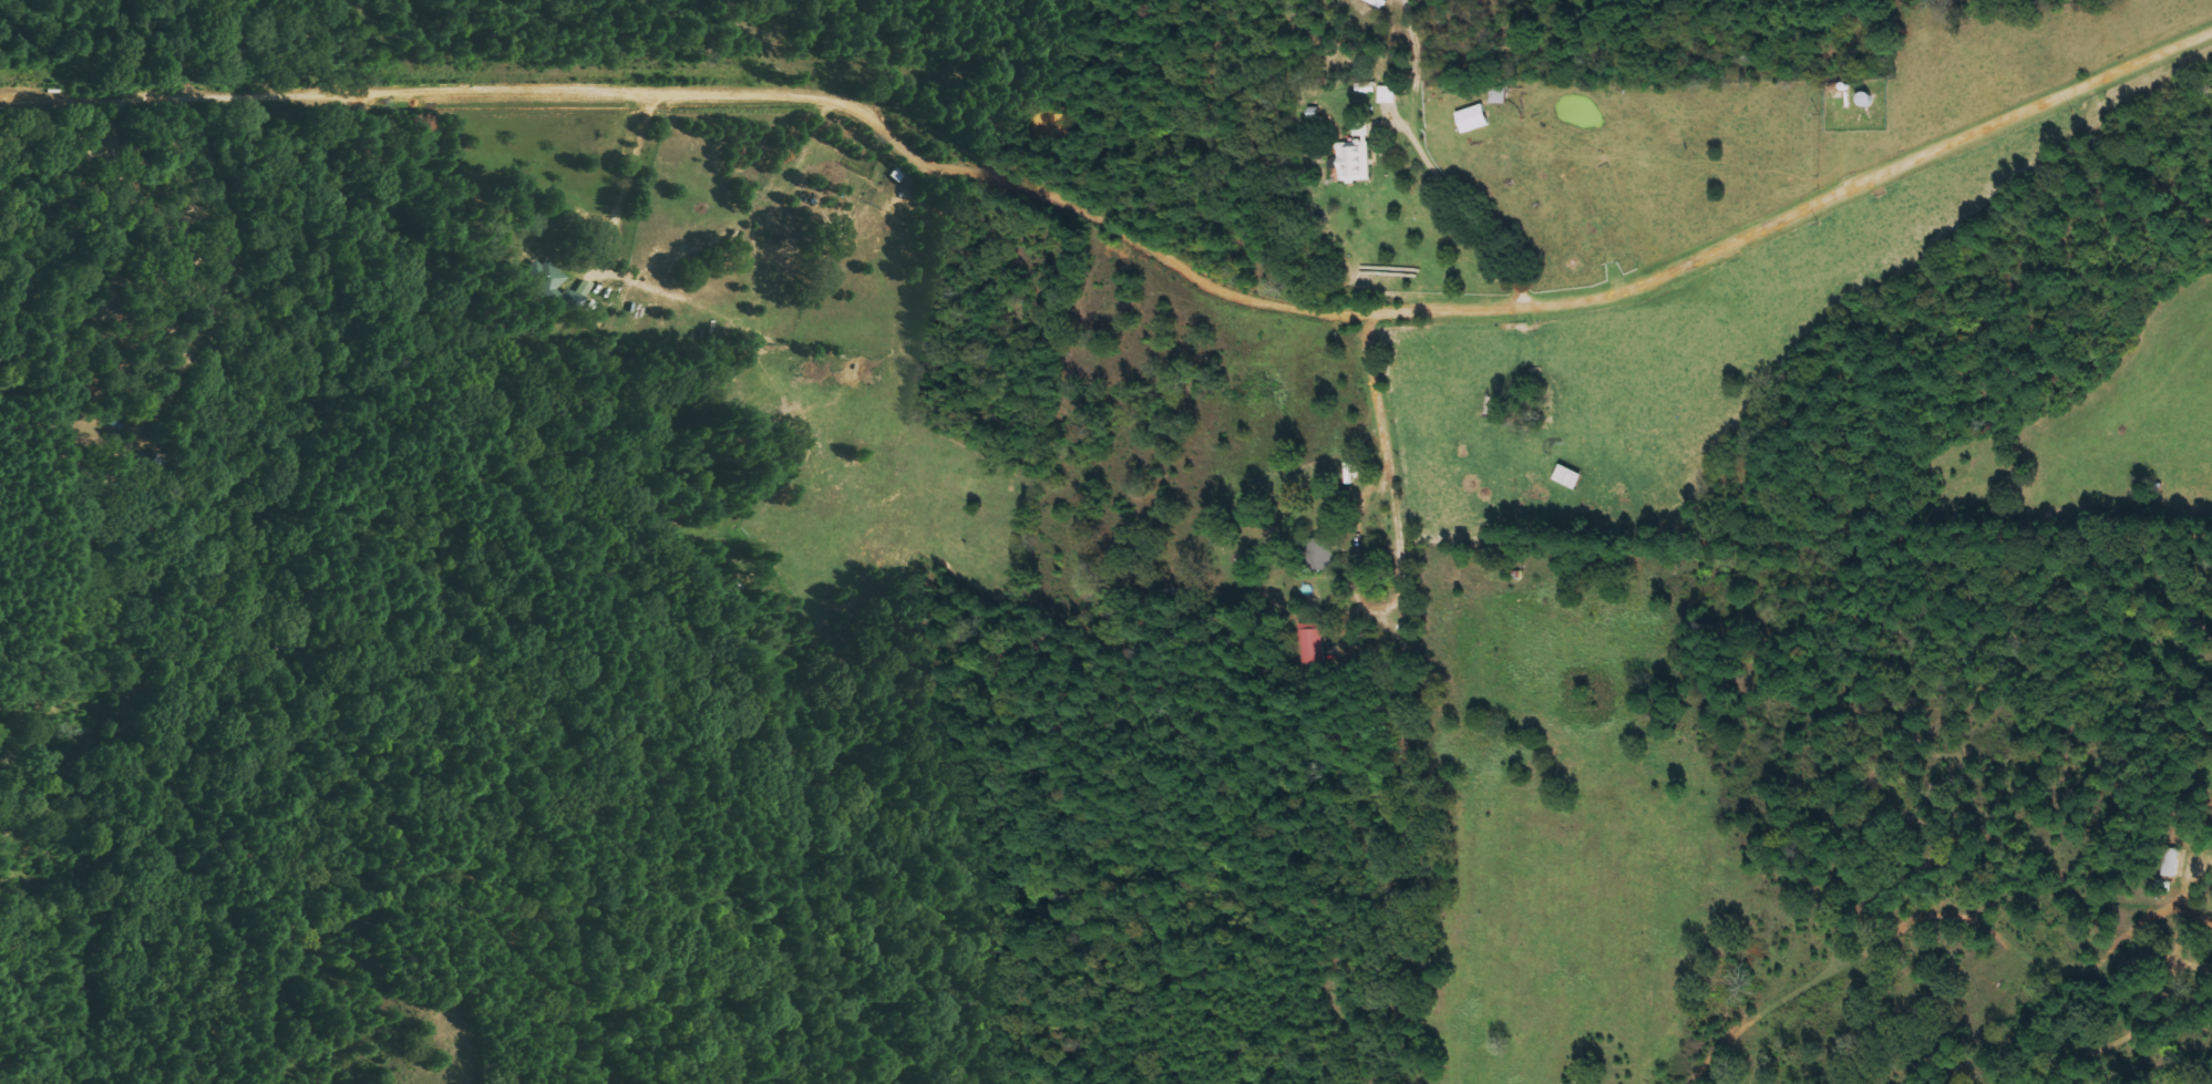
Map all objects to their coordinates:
building: (1390, 94)
building: (1468, 118)
road: (1122, 239)
building: (558, 289)
building: (1317, 554)
building: (1308, 641)
building: (2168, 864)

